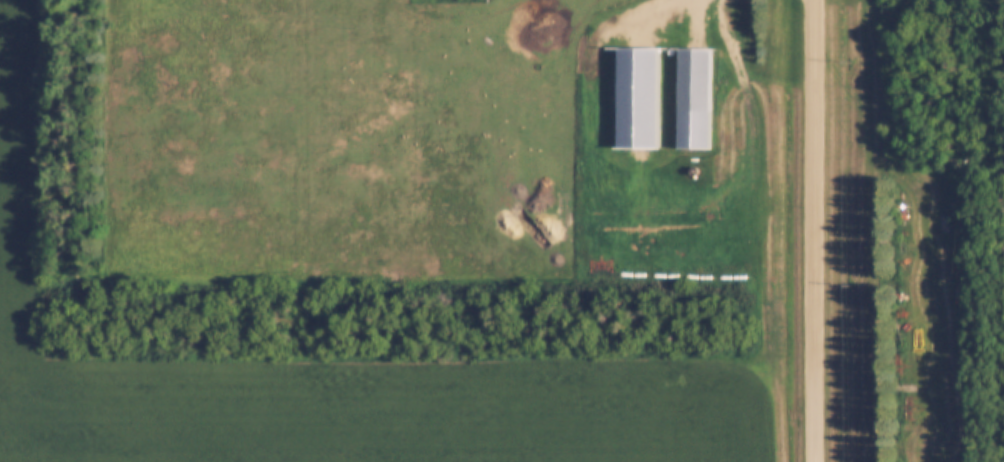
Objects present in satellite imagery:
building: (693, 79)
road: (815, 230)

